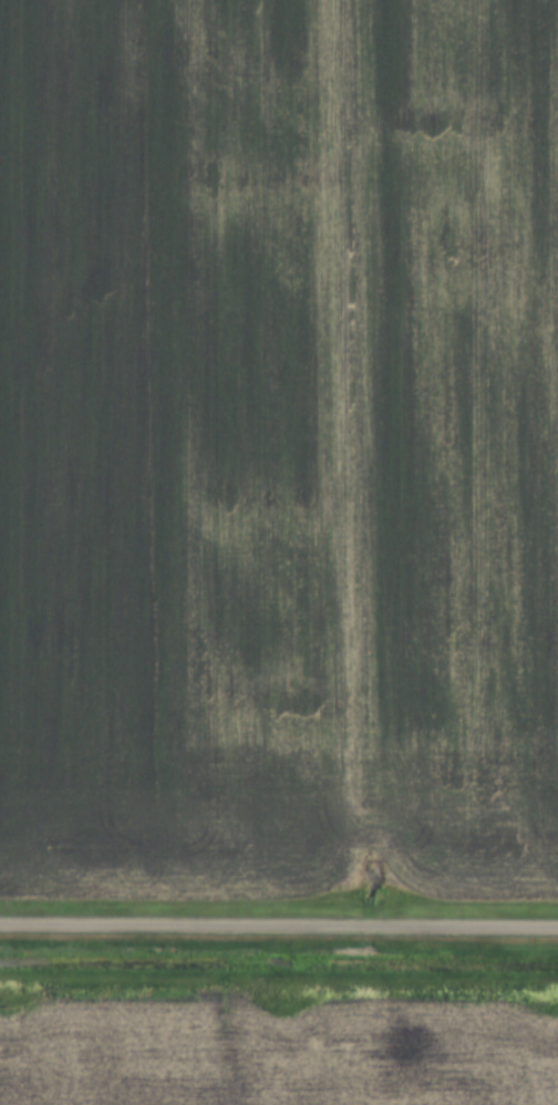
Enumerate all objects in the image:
road: (279, 927)

